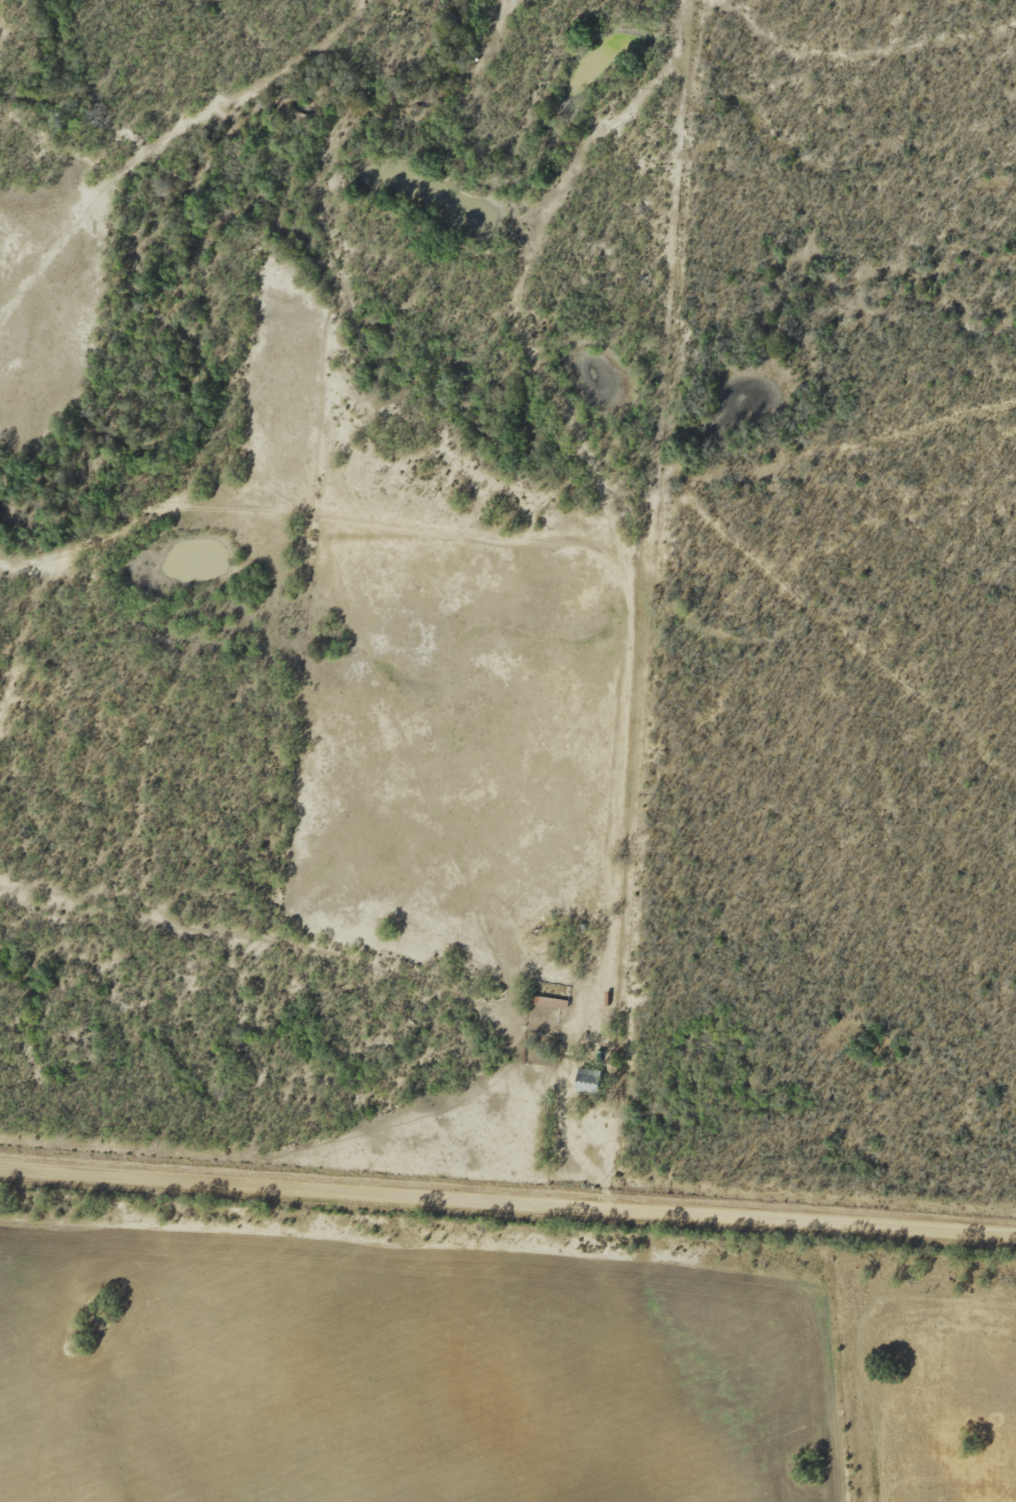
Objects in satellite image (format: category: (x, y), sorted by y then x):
road: (508, 1206)

